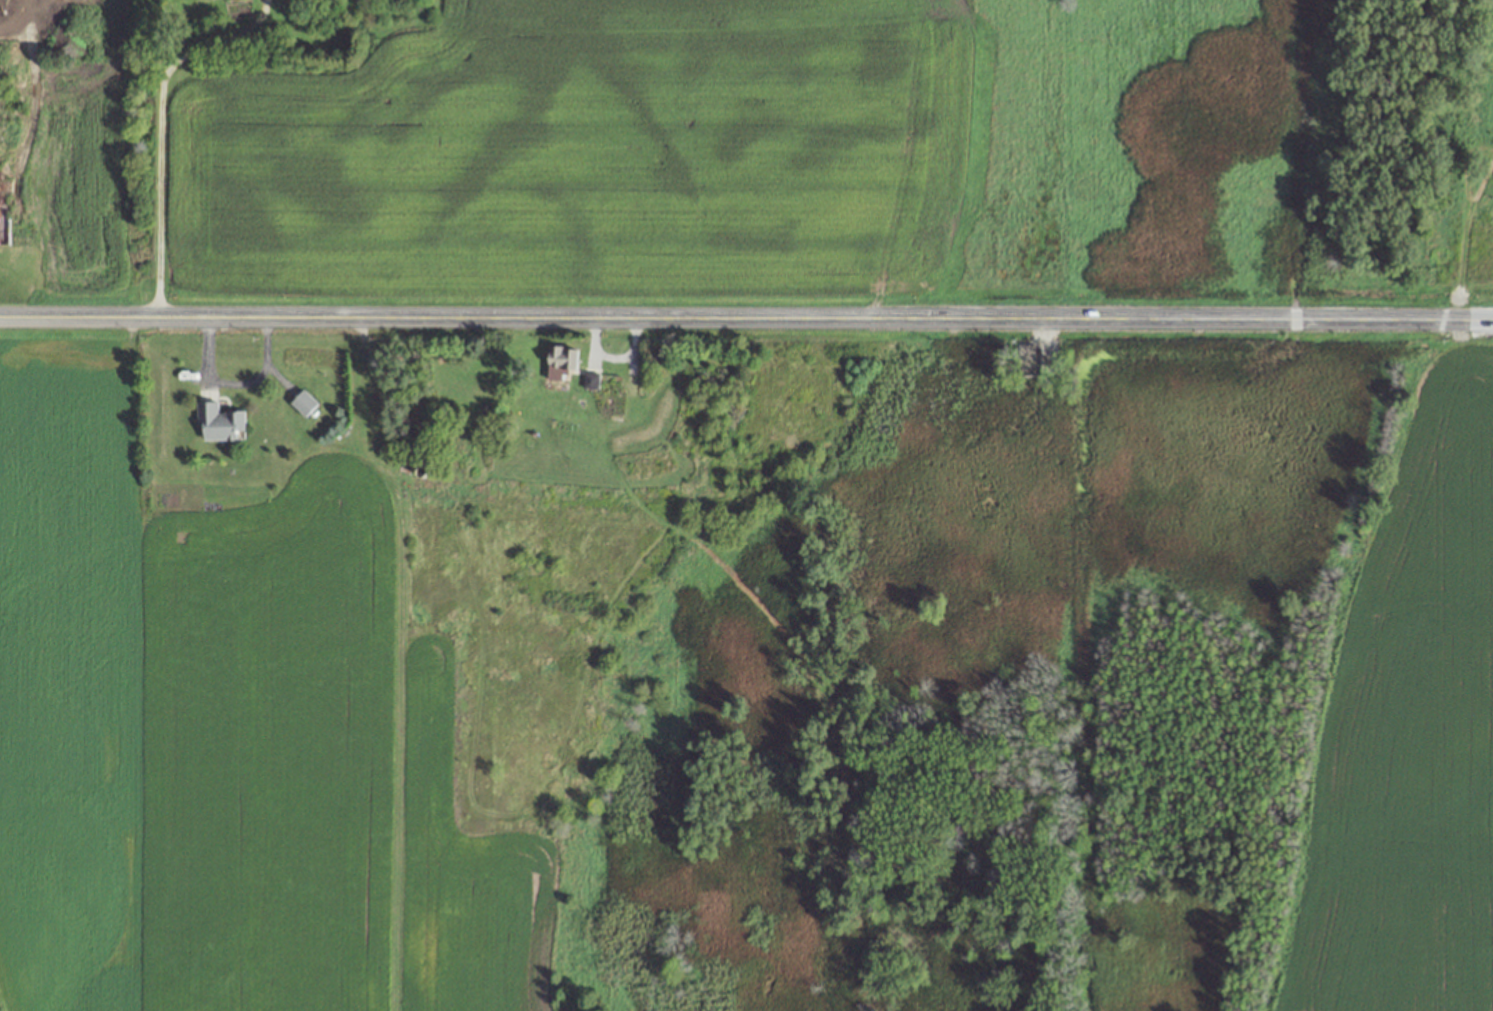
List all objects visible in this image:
road: (177, 25)
road: (226, 38)
road: (160, 187)
road: (734, 314)
road: (1481, 318)
building: (559, 364)
building: (591, 379)
road: (235, 380)
building: (303, 403)
building: (220, 423)

